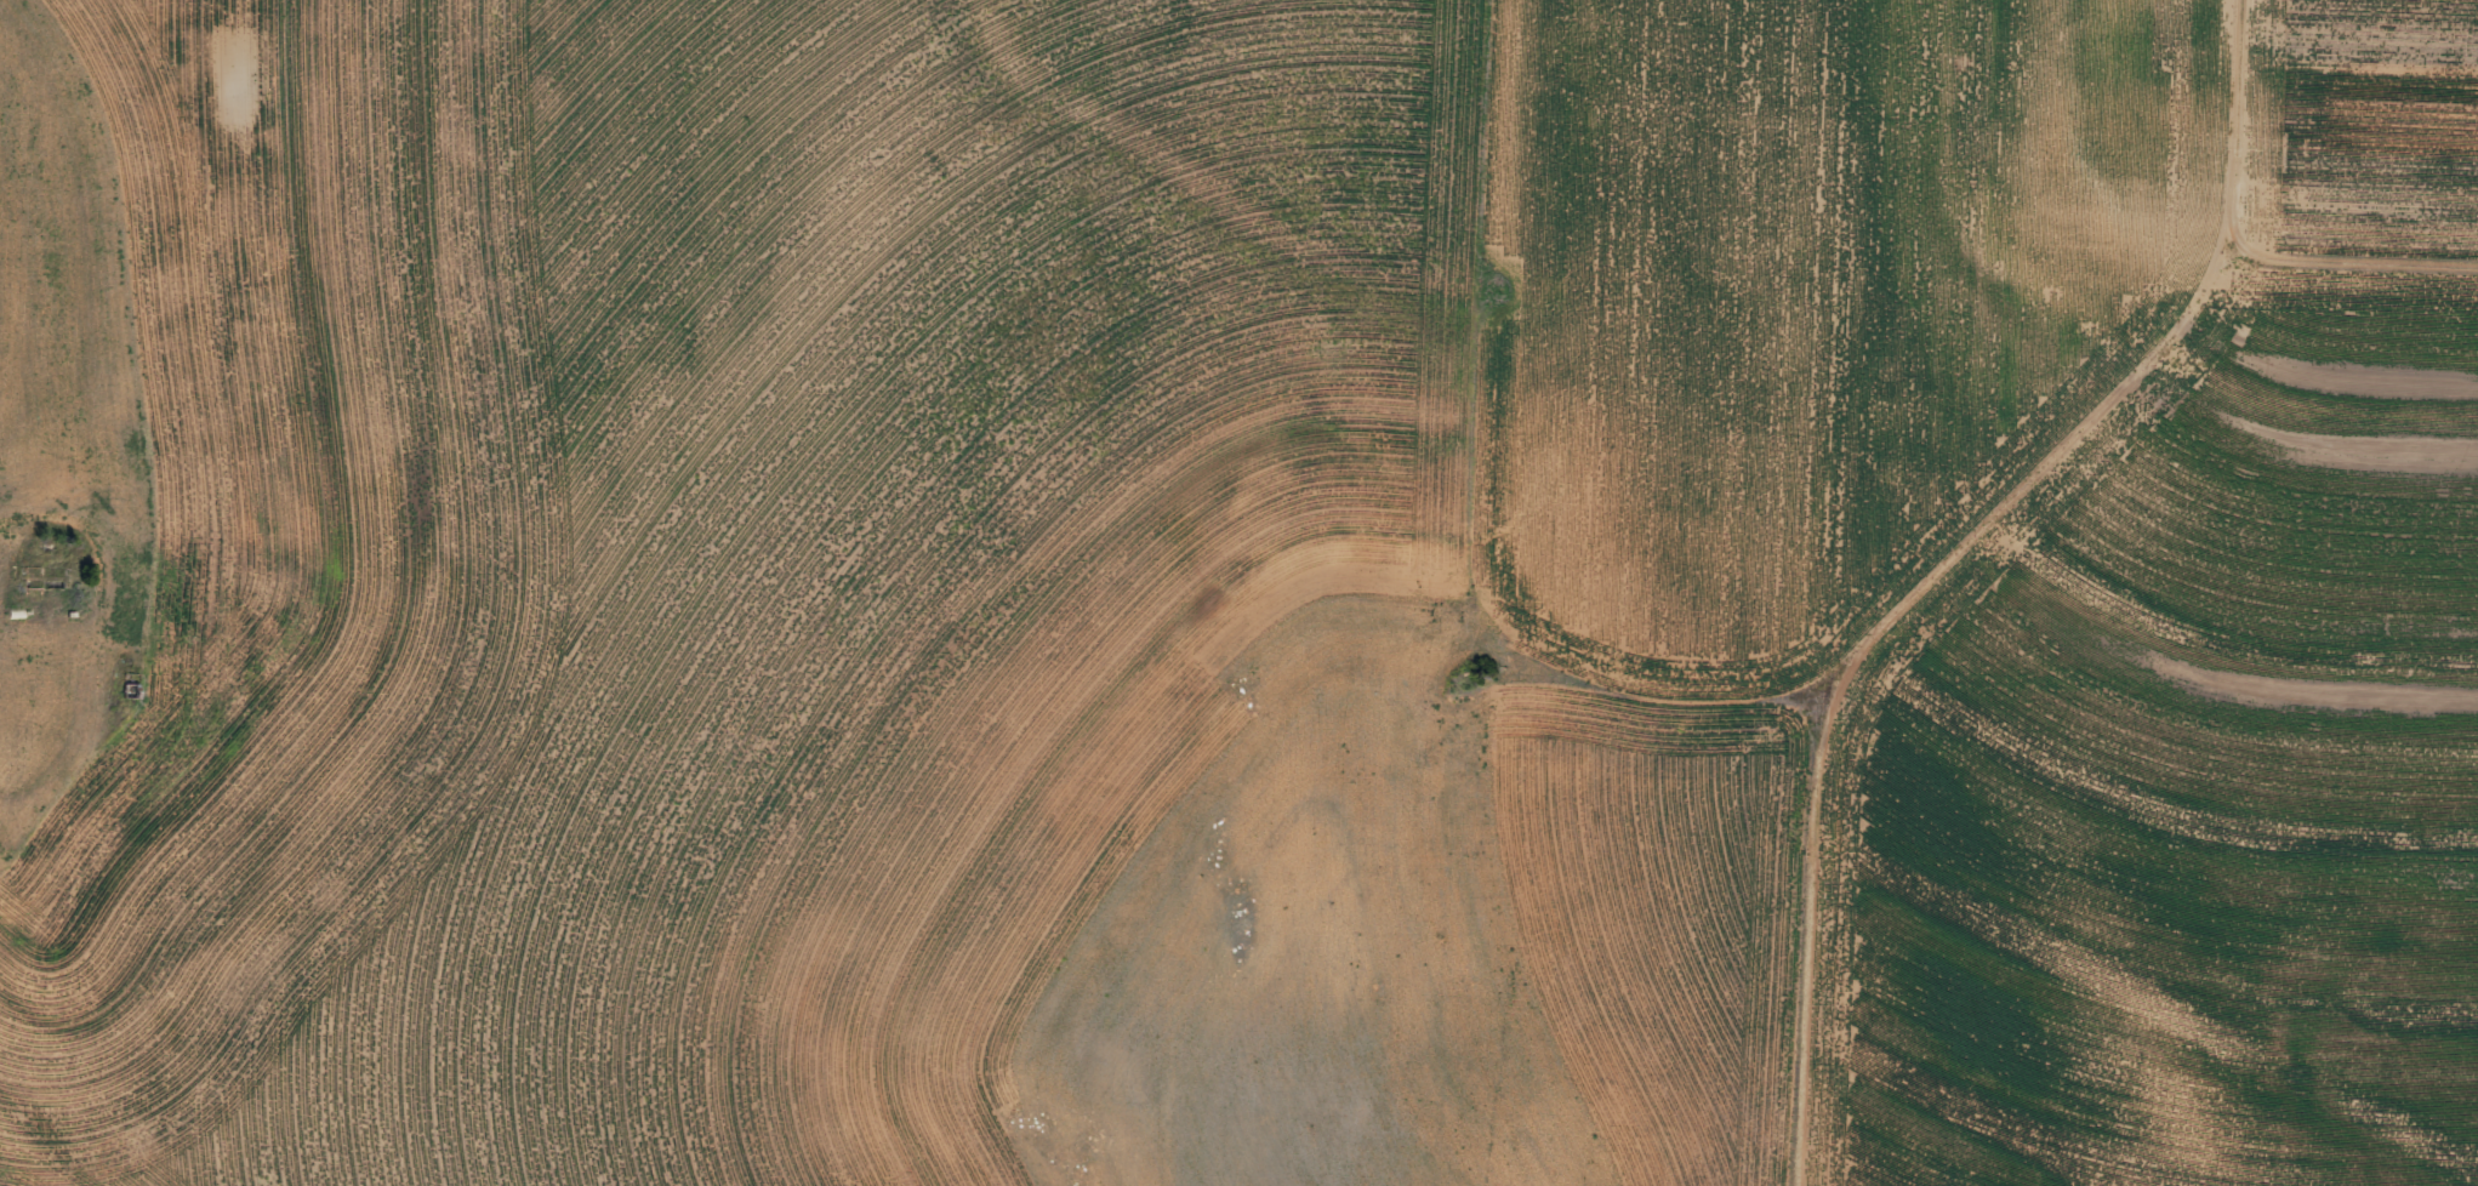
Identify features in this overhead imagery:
airport: (2135, 133)
building: (129, 691)

